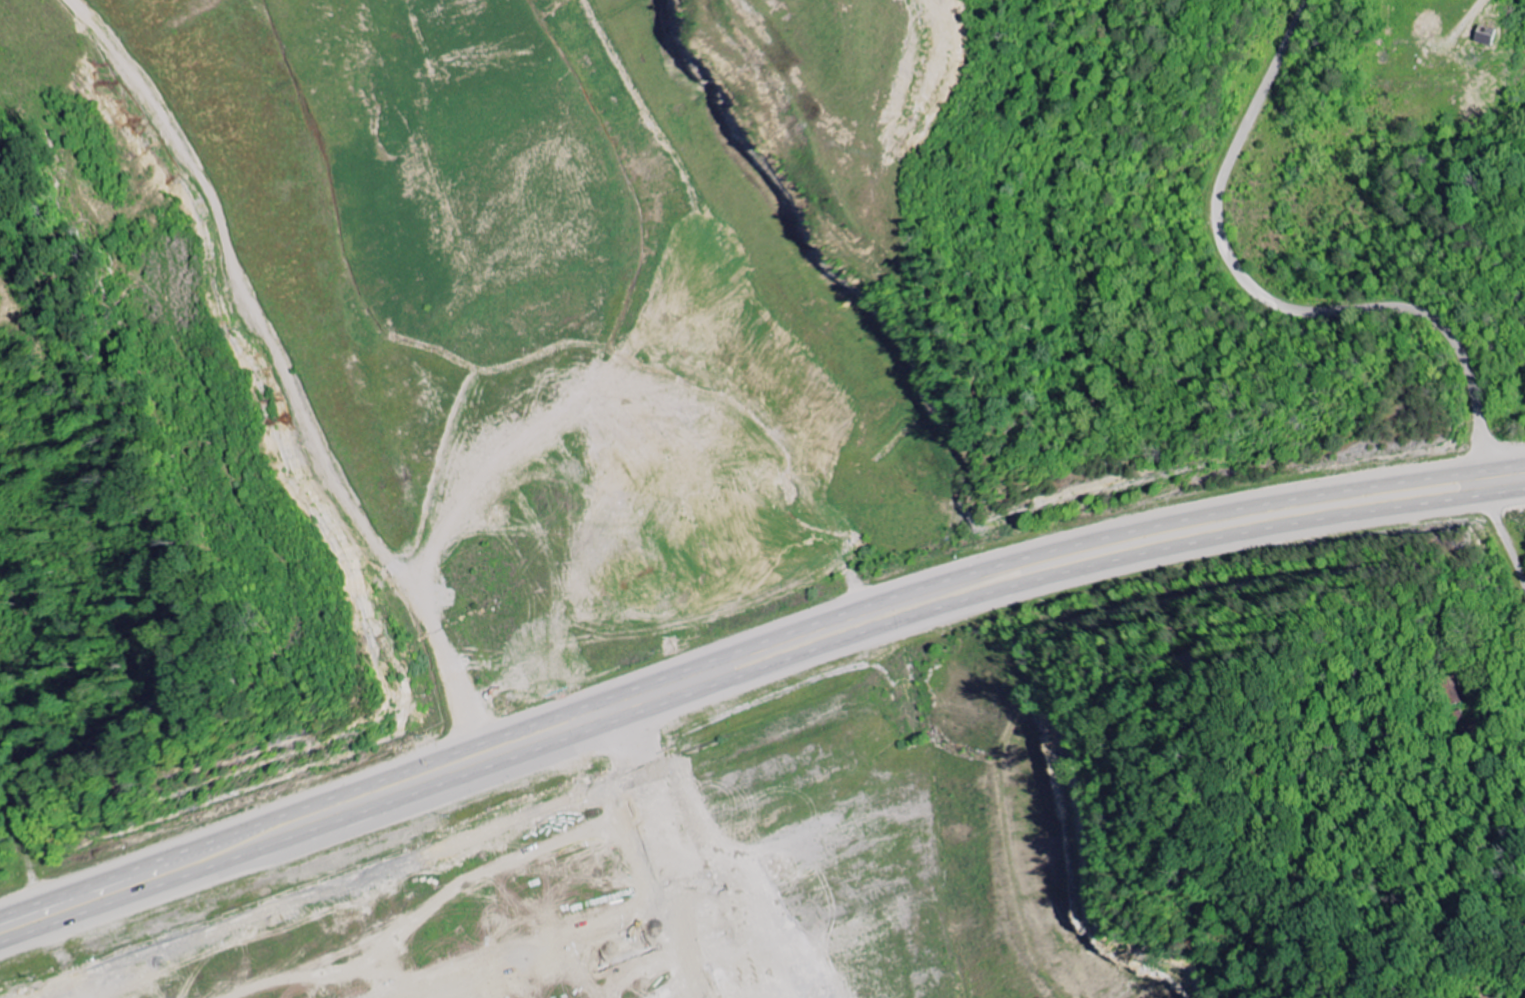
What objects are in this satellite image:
road: (1324, 313)
road: (750, 643)
road: (750, 676)
road: (1499, 750)
building: (135, 996)

